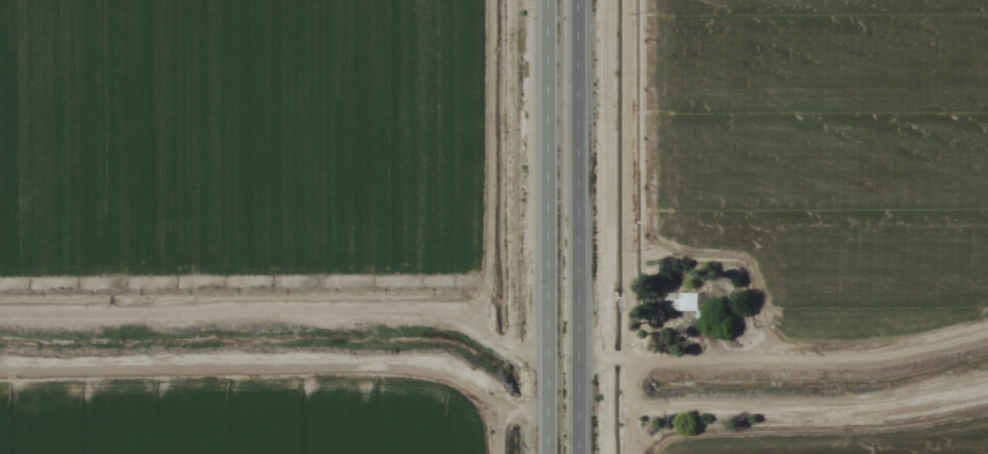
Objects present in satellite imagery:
road: (539, 227)
road: (572, 227)
building: (685, 303)

